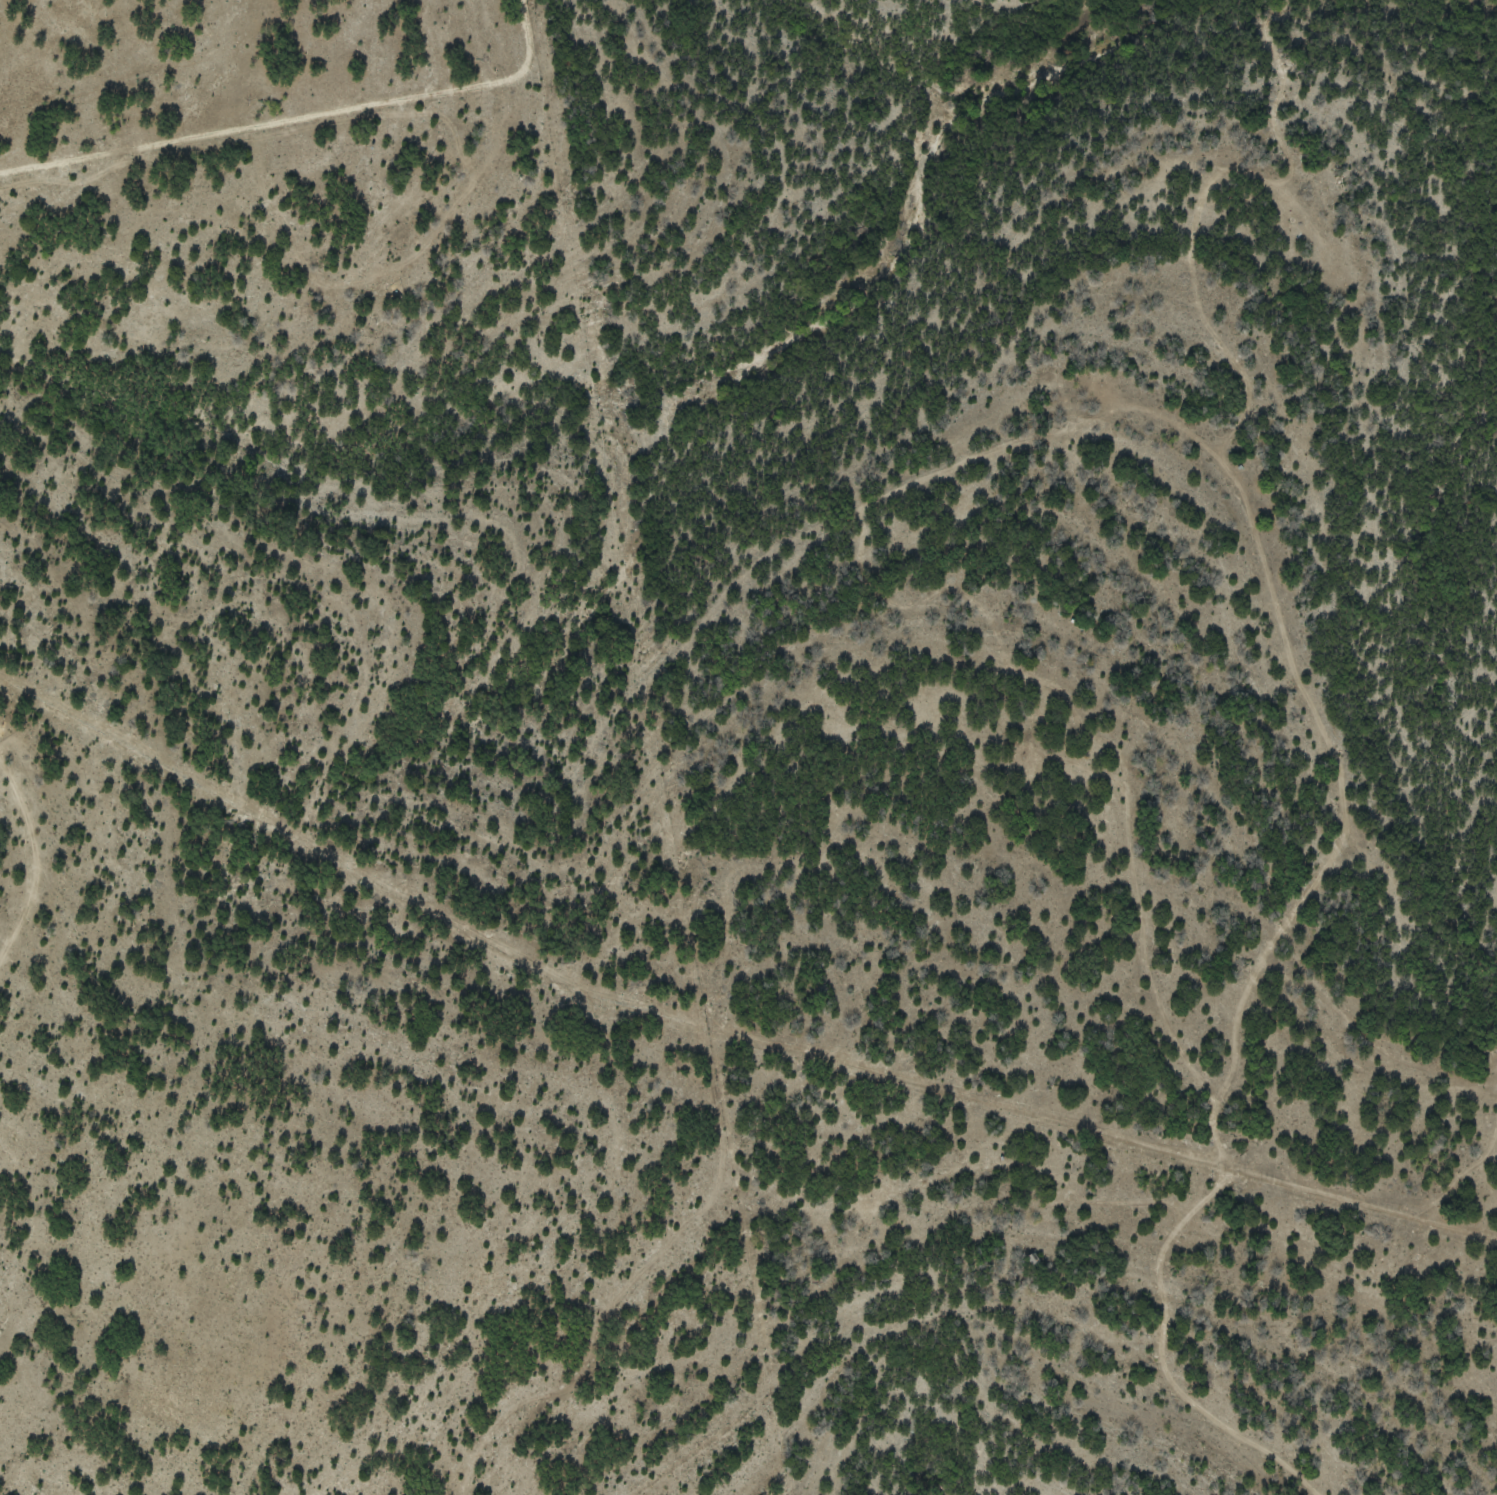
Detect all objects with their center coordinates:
road: (14, 846)

